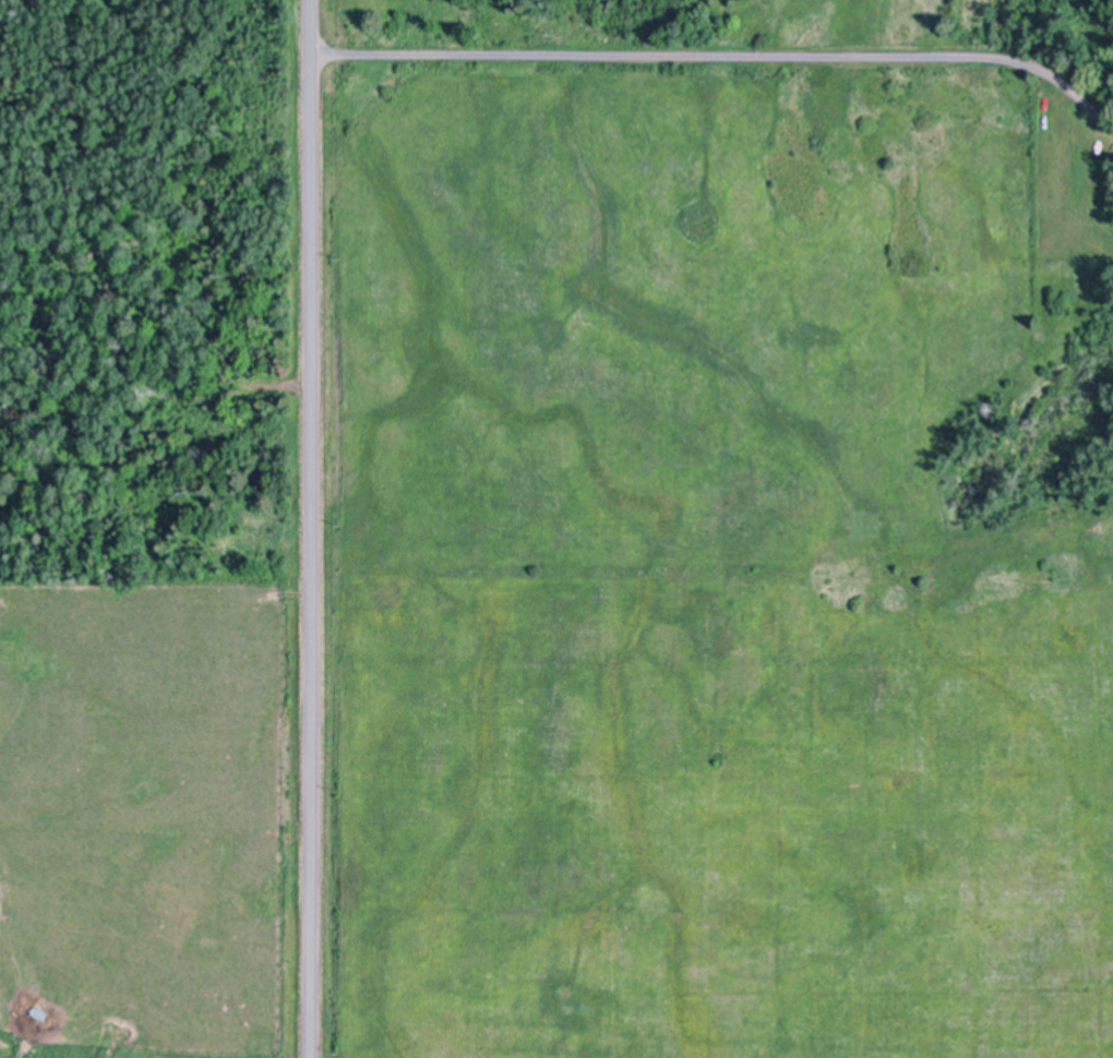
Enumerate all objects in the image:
road: (723, 56)
road: (309, 528)
building: (40, 1013)

